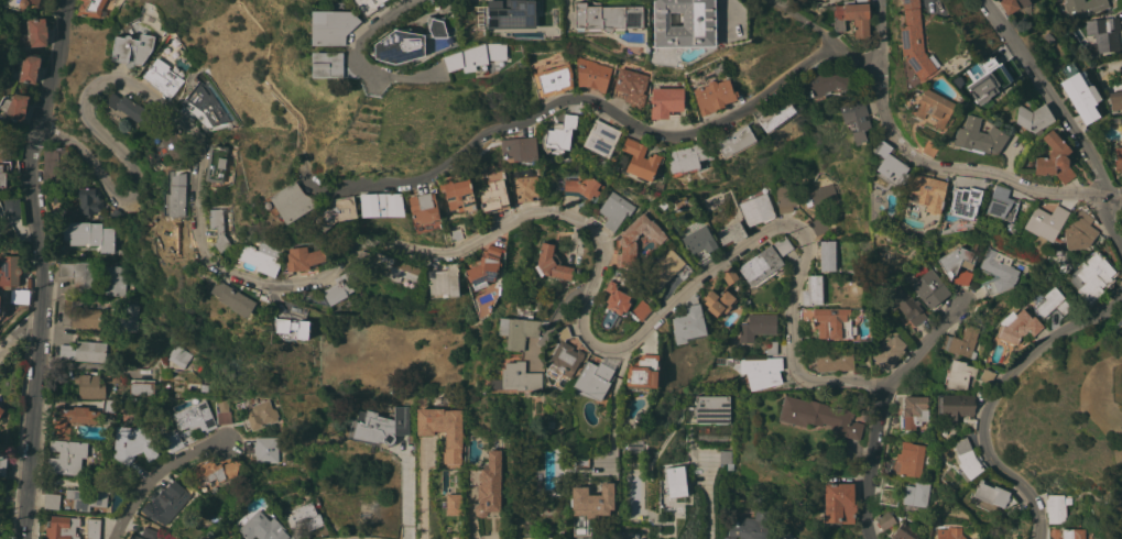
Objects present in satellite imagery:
building: (1053, 0)
building: (19, 3)
building: (1013, 4)
building: (369, 5)
building: (548, 7)
building: (1086, 7)
building: (92, 8)
building: (511, 13)
building: (847, 16)
building: (606, 18)
building: (457, 19)
road: (804, 21)
building: (683, 23)
building: (333, 25)
road: (881, 29)
building: (37, 32)
building: (1103, 33)
road: (358, 40)
building: (914, 41)
building: (401, 47)
building: (131, 48)
building: (476, 56)
building: (328, 64)
building: (978, 66)
building: (29, 67)
building: (592, 74)
building: (163, 77)
building: (553, 80)
building: (985, 80)
road: (270, 81)
building: (825, 84)
building: (631, 87)
building: (1080, 92)
building: (713, 96)
road: (588, 98)
building: (1115, 99)
building: (665, 101)
building: (17, 107)
building: (203, 107)
building: (933, 109)
building: (126, 110)
building: (775, 116)
building: (1032, 119)
building: (854, 120)
road: (1065, 120)
building: (1121, 123)
building: (559, 135)
building: (978, 136)
building: (601, 139)
building: (172, 142)
building: (733, 142)
building: (929, 147)
building: (520, 151)
building: (687, 156)
building: (1118, 157)
building: (642, 158)
building: (1054, 158)
building: (216, 163)
building: (55, 165)
building: (889, 165)
road: (962, 169)
building: (2, 177)
building: (579, 186)
building: (526, 188)
building: (927, 191)
building: (459, 195)
building: (493, 196)
building: (825, 196)
building: (785, 197)
building: (176, 201)
building: (962, 201)
building: (293, 202)
building: (1001, 202)
building: (85, 204)
building: (382, 204)
building: (11, 206)
building: (423, 207)
building: (614, 209)
building: (756, 209)
building: (335, 211)
building: (1045, 221)
building: (821, 226)
building: (218, 230)
road: (766, 230)
building: (1079, 231)
building: (731, 232)
building: (455, 233)
building: (87, 234)
road: (200, 239)
building: (627, 240)
building: (699, 244)
building: (782, 245)
building: (826, 254)
building: (260, 257)
building: (303, 258)
building: (887, 261)
building: (959, 263)
building: (554, 264)
building: (761, 265)
building: (390, 266)
building: (484, 266)
road: (35, 267)
building: (9, 271)
building: (665, 271)
building: (999, 271)
building: (80, 275)
building: (729, 276)
building: (1091, 276)
building: (115, 279)
building: (444, 280)
building: (609, 285)
building: (929, 288)
building: (339, 289)
building: (813, 290)
building: (233, 298)
road: (568, 299)
road: (277, 301)
building: (719, 301)
building: (1050, 302)
building: (905, 305)
building: (614, 307)
building: (2, 308)
building: (641, 309)
building: (80, 317)
building: (128, 317)
building: (828, 321)
building: (1120, 321)
building: (688, 324)
building: (756, 326)
building: (1017, 326)
building: (292, 329)
building: (519, 329)
building: (1121, 329)
building: (1121, 331)
road: (18, 334)
building: (961, 343)
building: (771, 348)
building: (84, 351)
building: (887, 352)
building: (177, 355)
building: (563, 360)
building: (834, 361)
road: (91, 364)
building: (642, 371)
building: (761, 372)
building: (958, 374)
building: (987, 375)
building: (520, 376)
building: (595, 377)
building: (88, 384)
road: (613, 387)
building: (141, 388)
road: (993, 395)
road: (883, 404)
building: (107, 405)
building: (954, 405)
building: (1, 409)
building: (708, 409)
building: (222, 410)
building: (260, 414)
building: (908, 414)
building: (195, 416)
building: (818, 416)
building: (69, 419)
building: (381, 426)
building: (453, 440)
building: (173, 441)
building: (132, 443)
building: (262, 449)
building: (66, 457)
building: (726, 458)
building: (966, 459)
building: (581, 460)
building: (905, 460)
building: (3, 464)
building: (214, 471)
road: (152, 473)
building: (675, 483)
building: (484, 486)
road: (424, 488)
building: (991, 493)
building: (915, 494)
building: (88, 496)
building: (887, 496)
building: (170, 499)
building: (316, 499)
building: (51, 501)
road: (708, 502)
building: (451, 503)
building: (839, 503)
building: (588, 506)
building: (1055, 508)
building: (273, 512)
building: (304, 516)
building: (884, 519)
building: (750, 526)
building: (263, 527)
building: (62, 528)
building: (92, 528)
building: (905, 531)
building: (149, 532)
building: (950, 532)
building: (1069, 532)
building: (784, 535)
building: (134, 537)
building: (235, 538)

